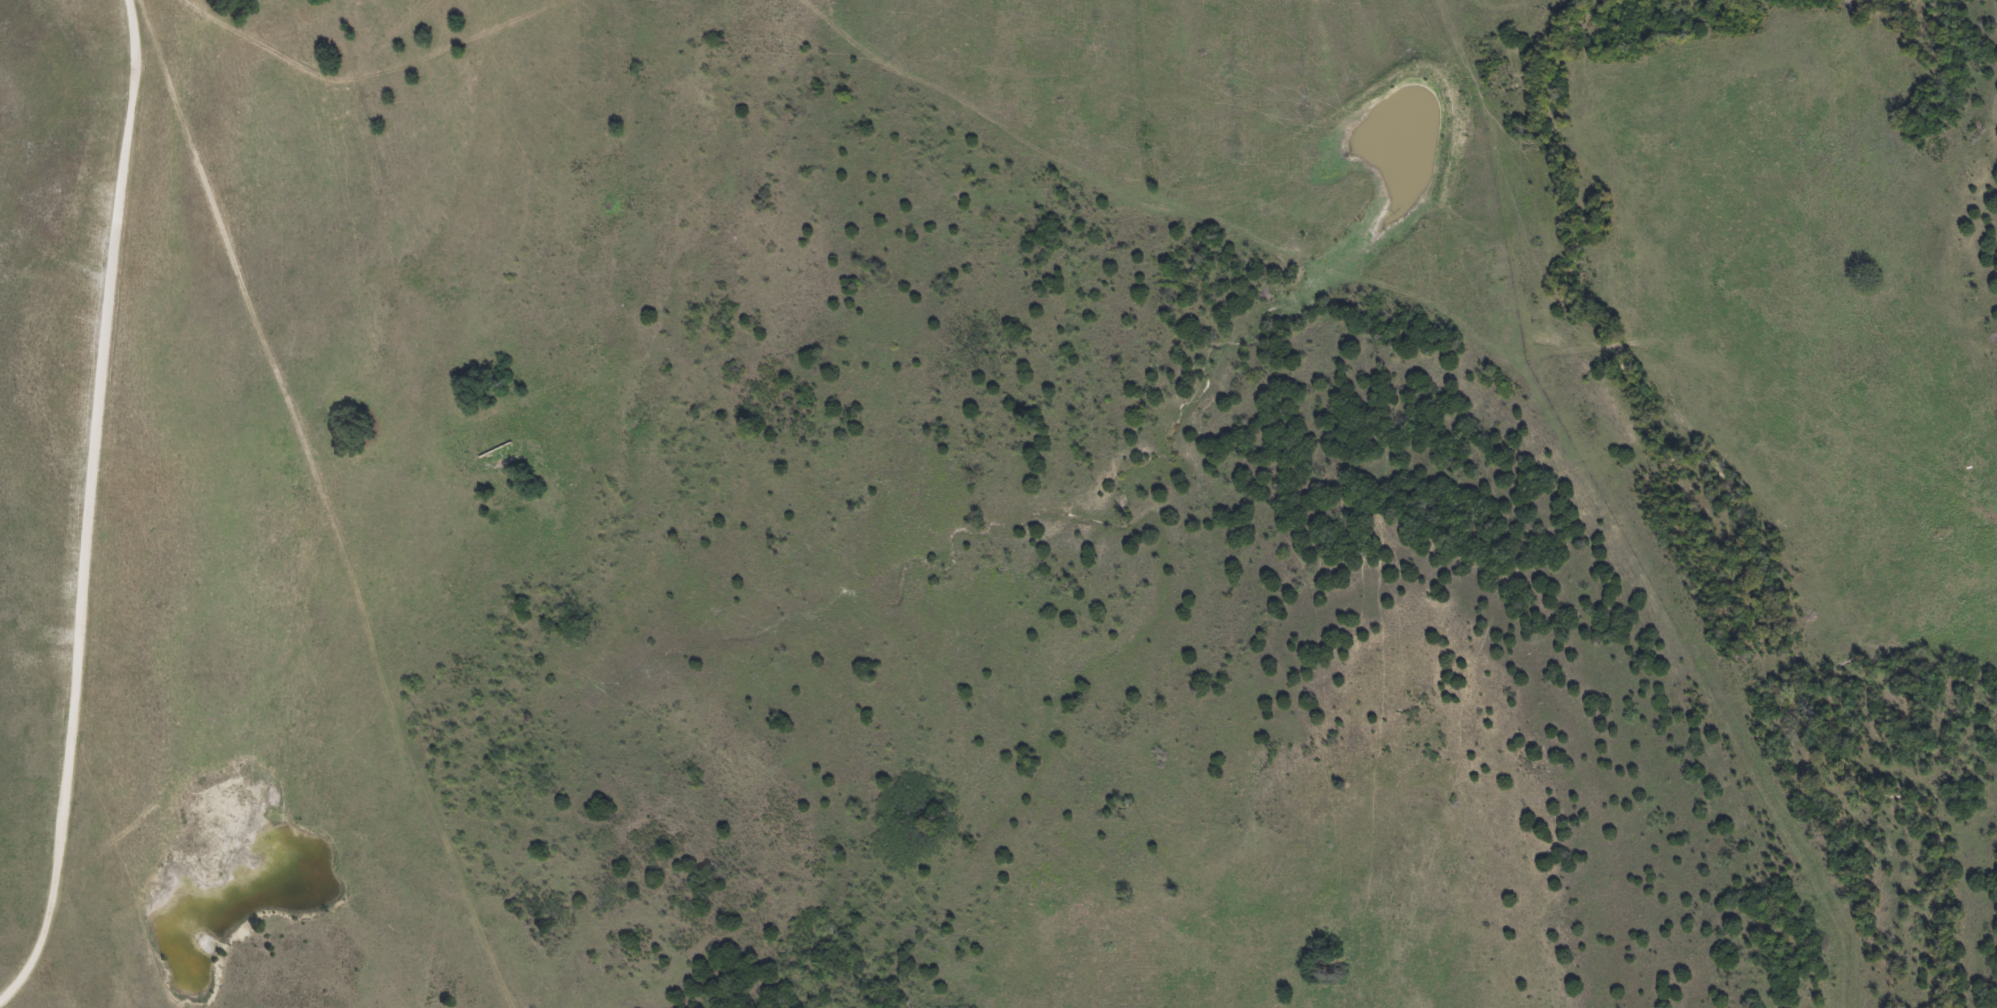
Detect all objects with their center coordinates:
building: (498, 455)
road: (90, 504)
road: (268, 672)

